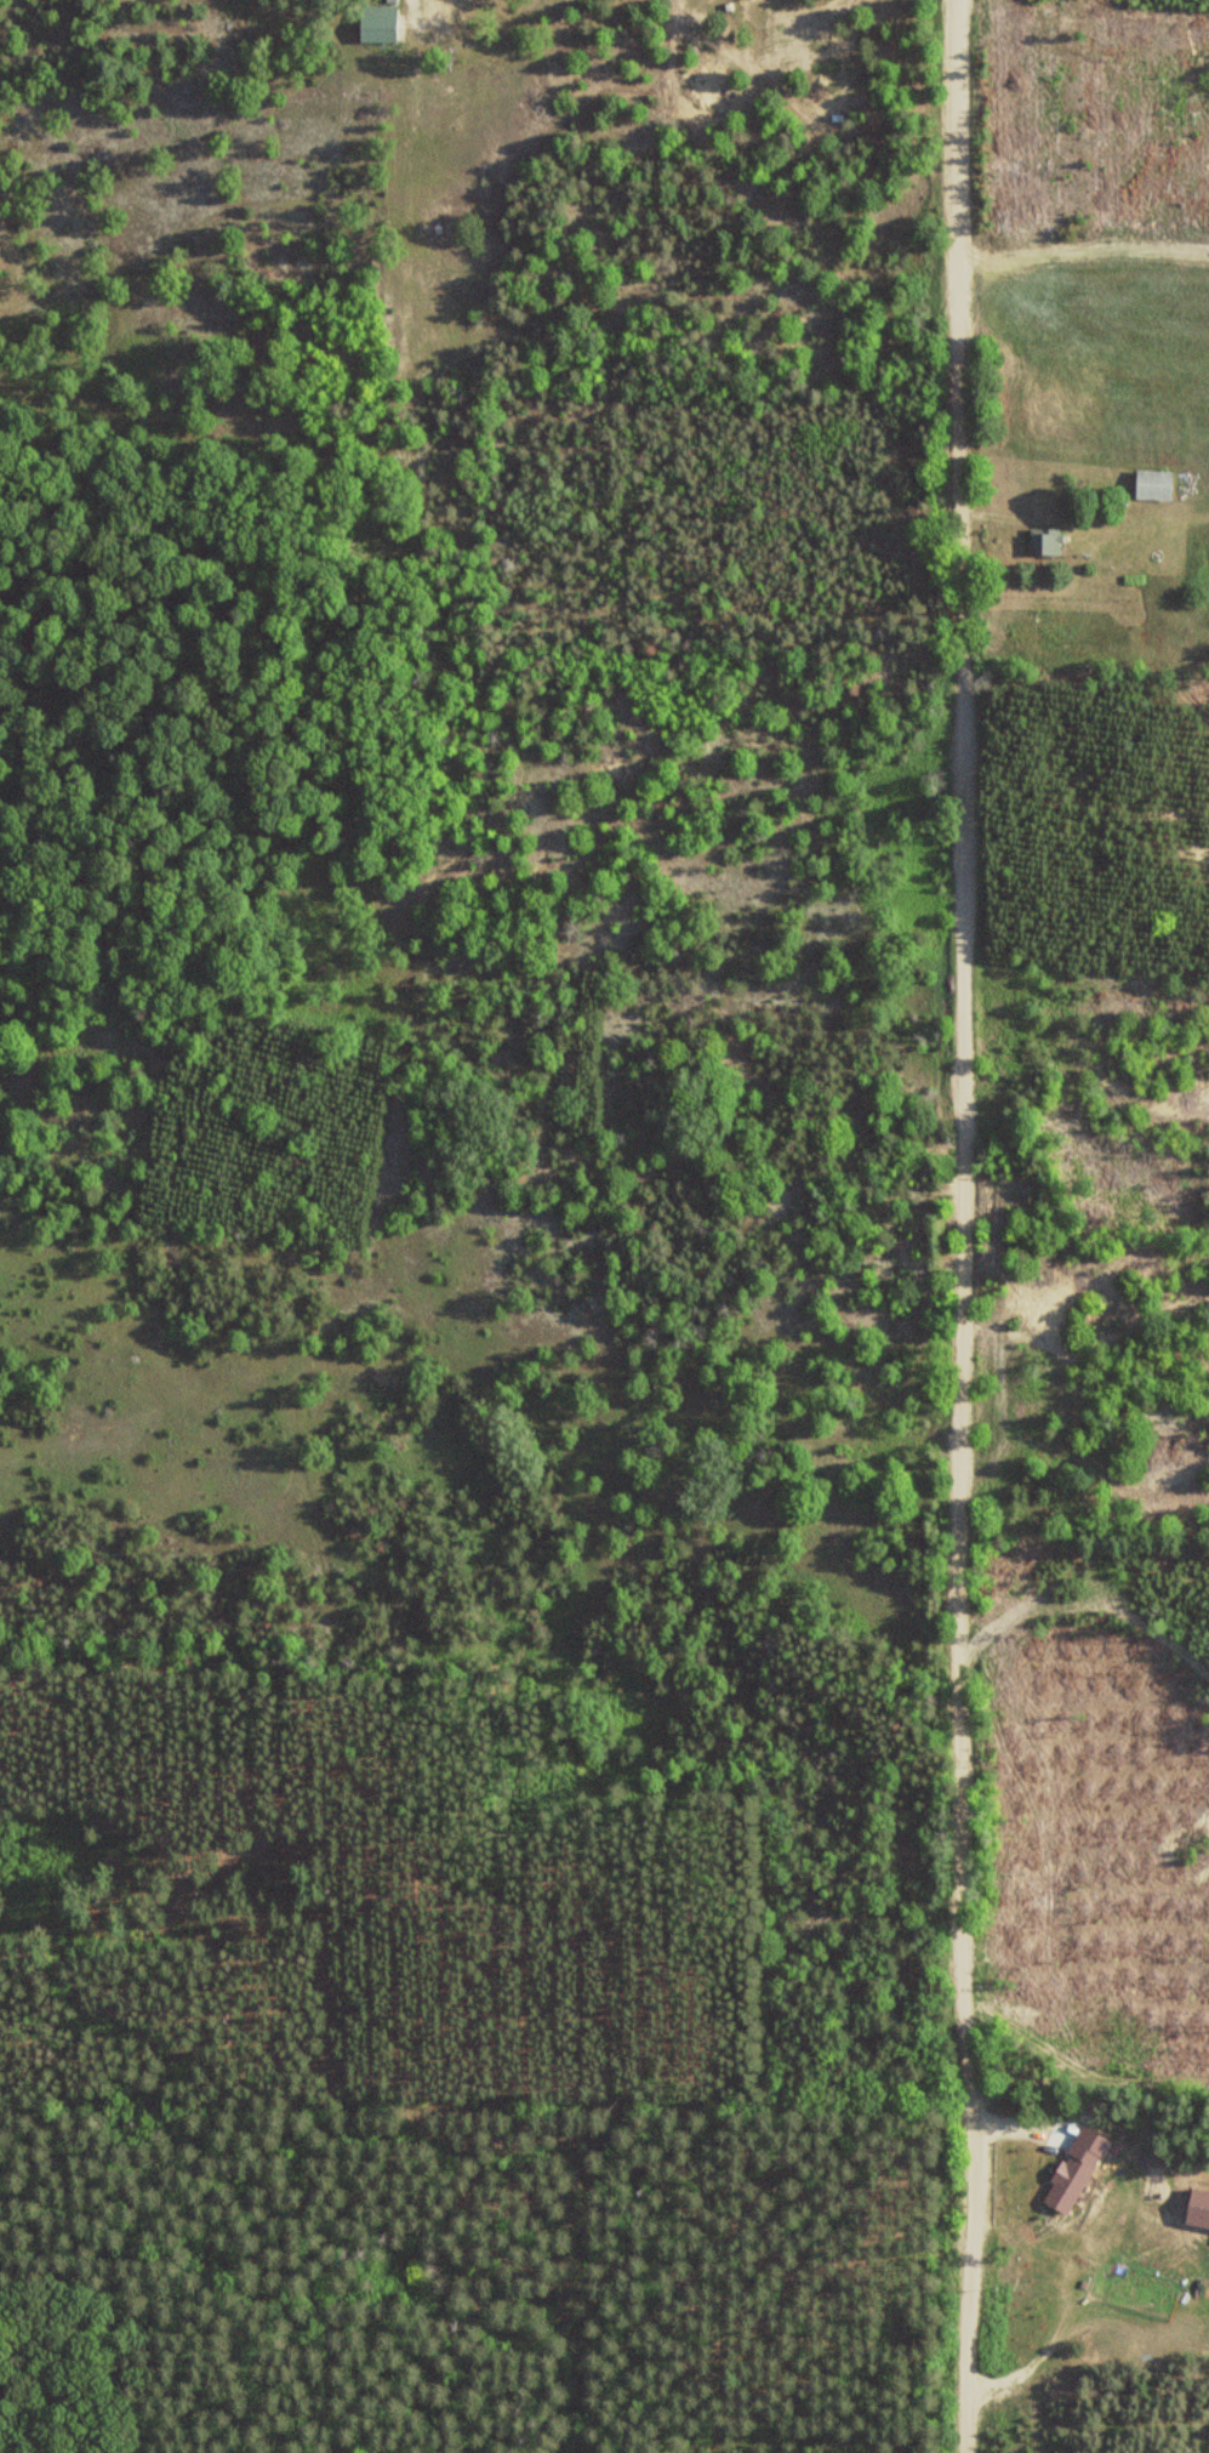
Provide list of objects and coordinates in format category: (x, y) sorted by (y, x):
building: (377, 23)
building: (1153, 483)
building: (1047, 540)
road: (959, 1225)
building: (1067, 2184)

